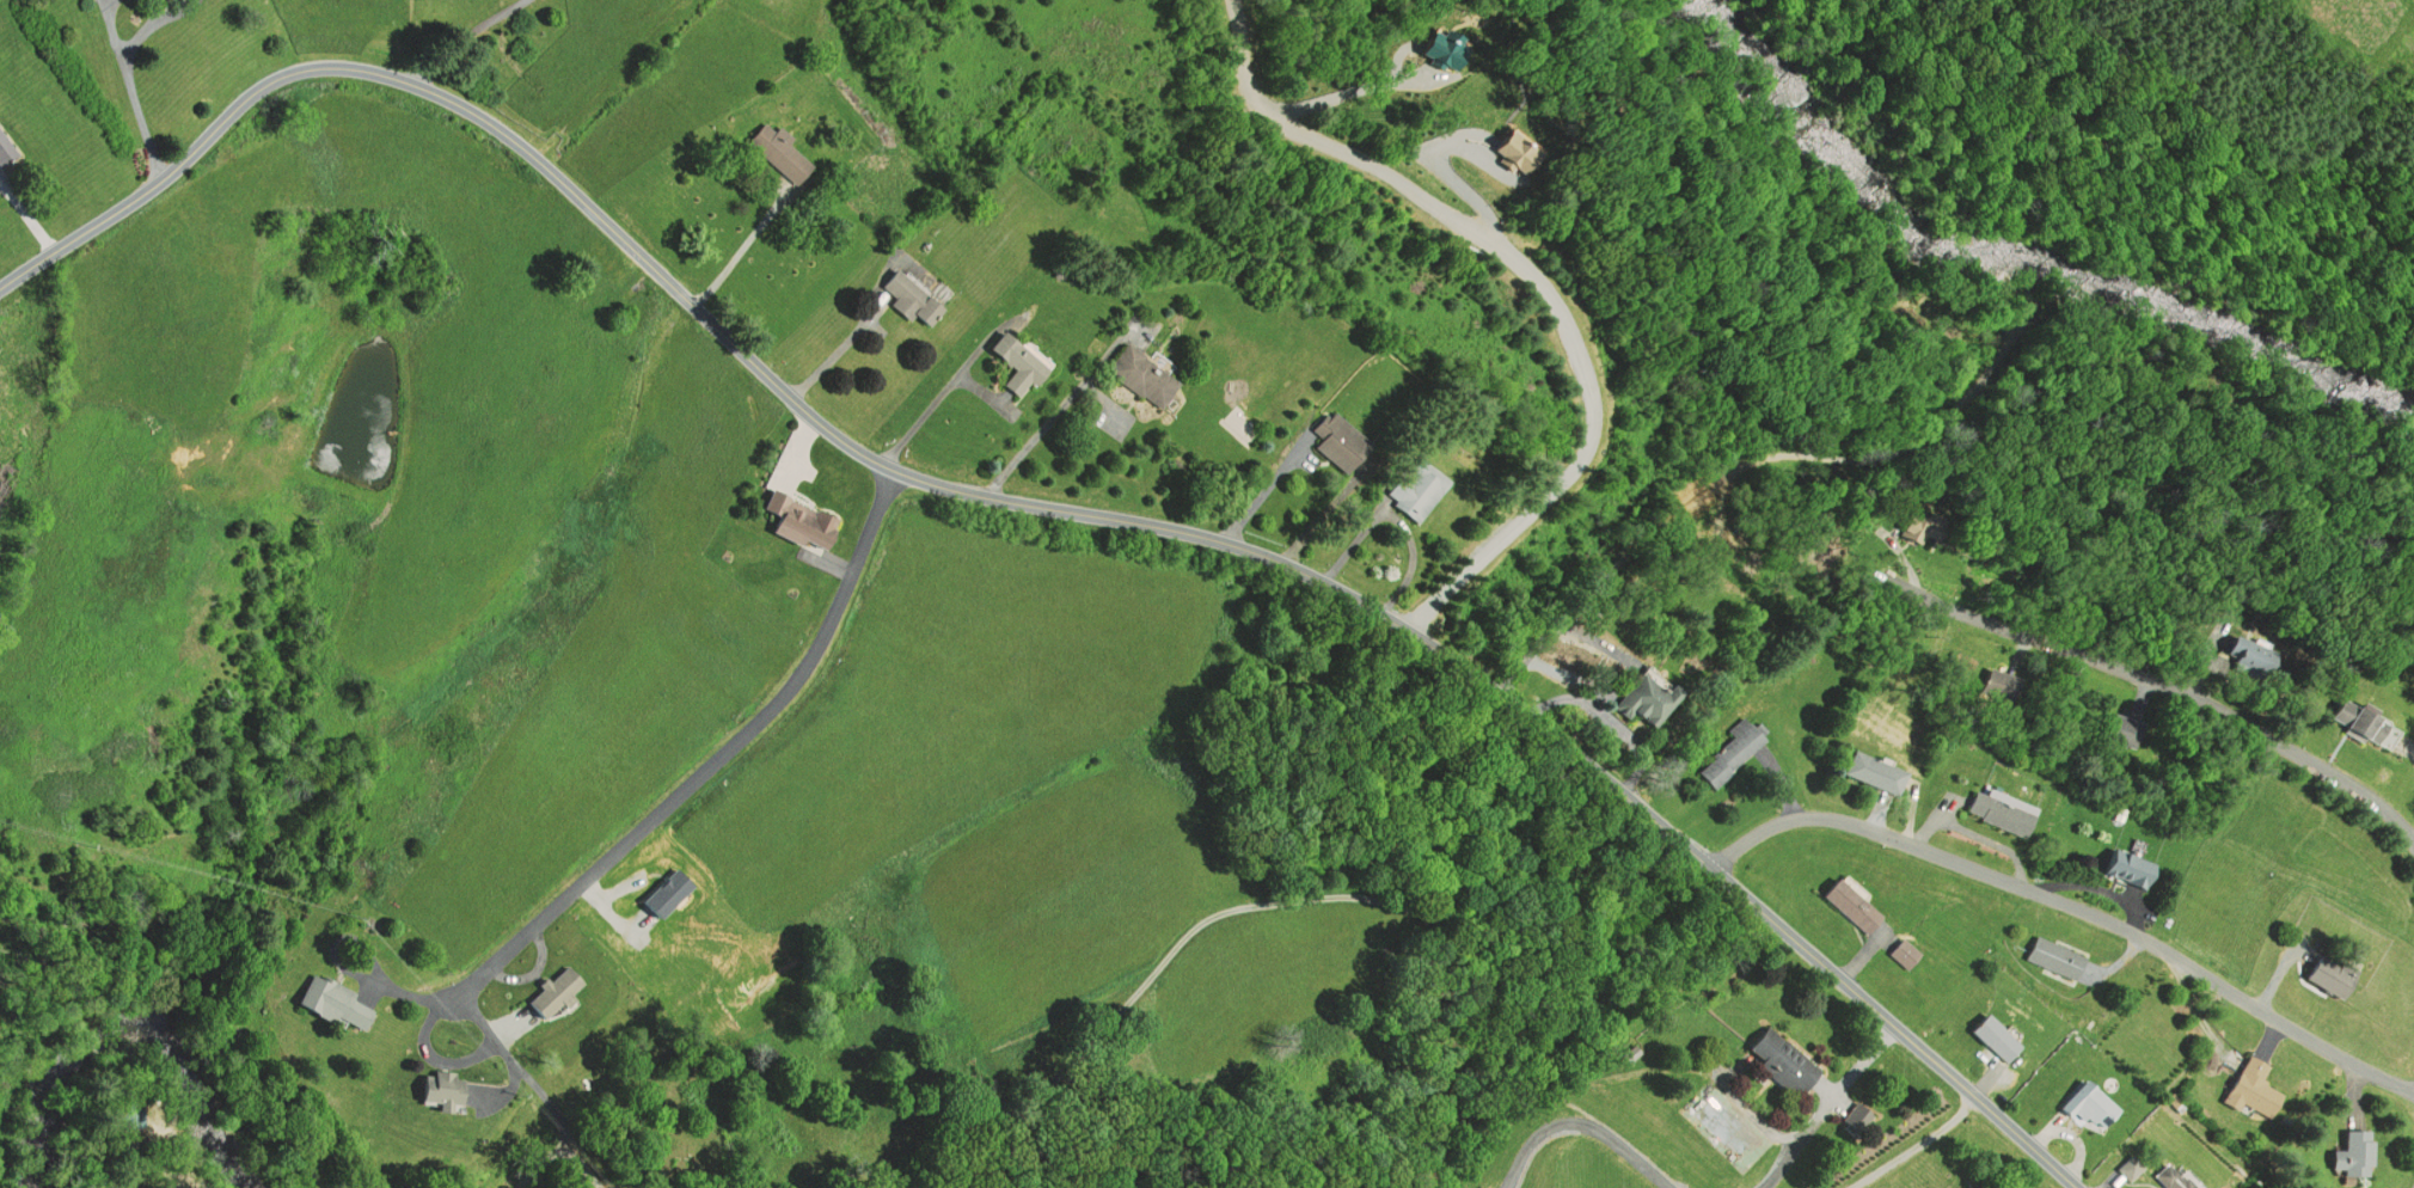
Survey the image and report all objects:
building: (7, 149)
building: (777, 151)
building: (0, 158)
river: (2038, 245)
road: (1540, 277)
building: (909, 298)
building: (1017, 360)
building: (1144, 375)
building: (1337, 436)
building: (1416, 488)
road: (1036, 507)
building: (797, 516)
building: (1920, 527)
building: (1905, 528)
building: (2253, 655)
building: (2001, 684)
road: (2161, 687)
building: (1649, 697)
building: (2366, 724)
building: (2126, 731)
building: (1732, 749)
road: (712, 761)
building: (1876, 773)
building: (2003, 807)
building: (2132, 864)
building: (1854, 904)
road: (2065, 910)
building: (1905, 951)
building: (2057, 955)
building: (2332, 974)
building: (549, 990)
building: (336, 998)
river: (112, 1010)
building: (1997, 1036)
building: (1779, 1060)
building: (2256, 1085)
building: (437, 1089)
building: (2094, 1106)
building: (123, 1114)
road: (1906, 1144)
building: (2355, 1153)
building: (2128, 1168)
building: (2169, 1176)

